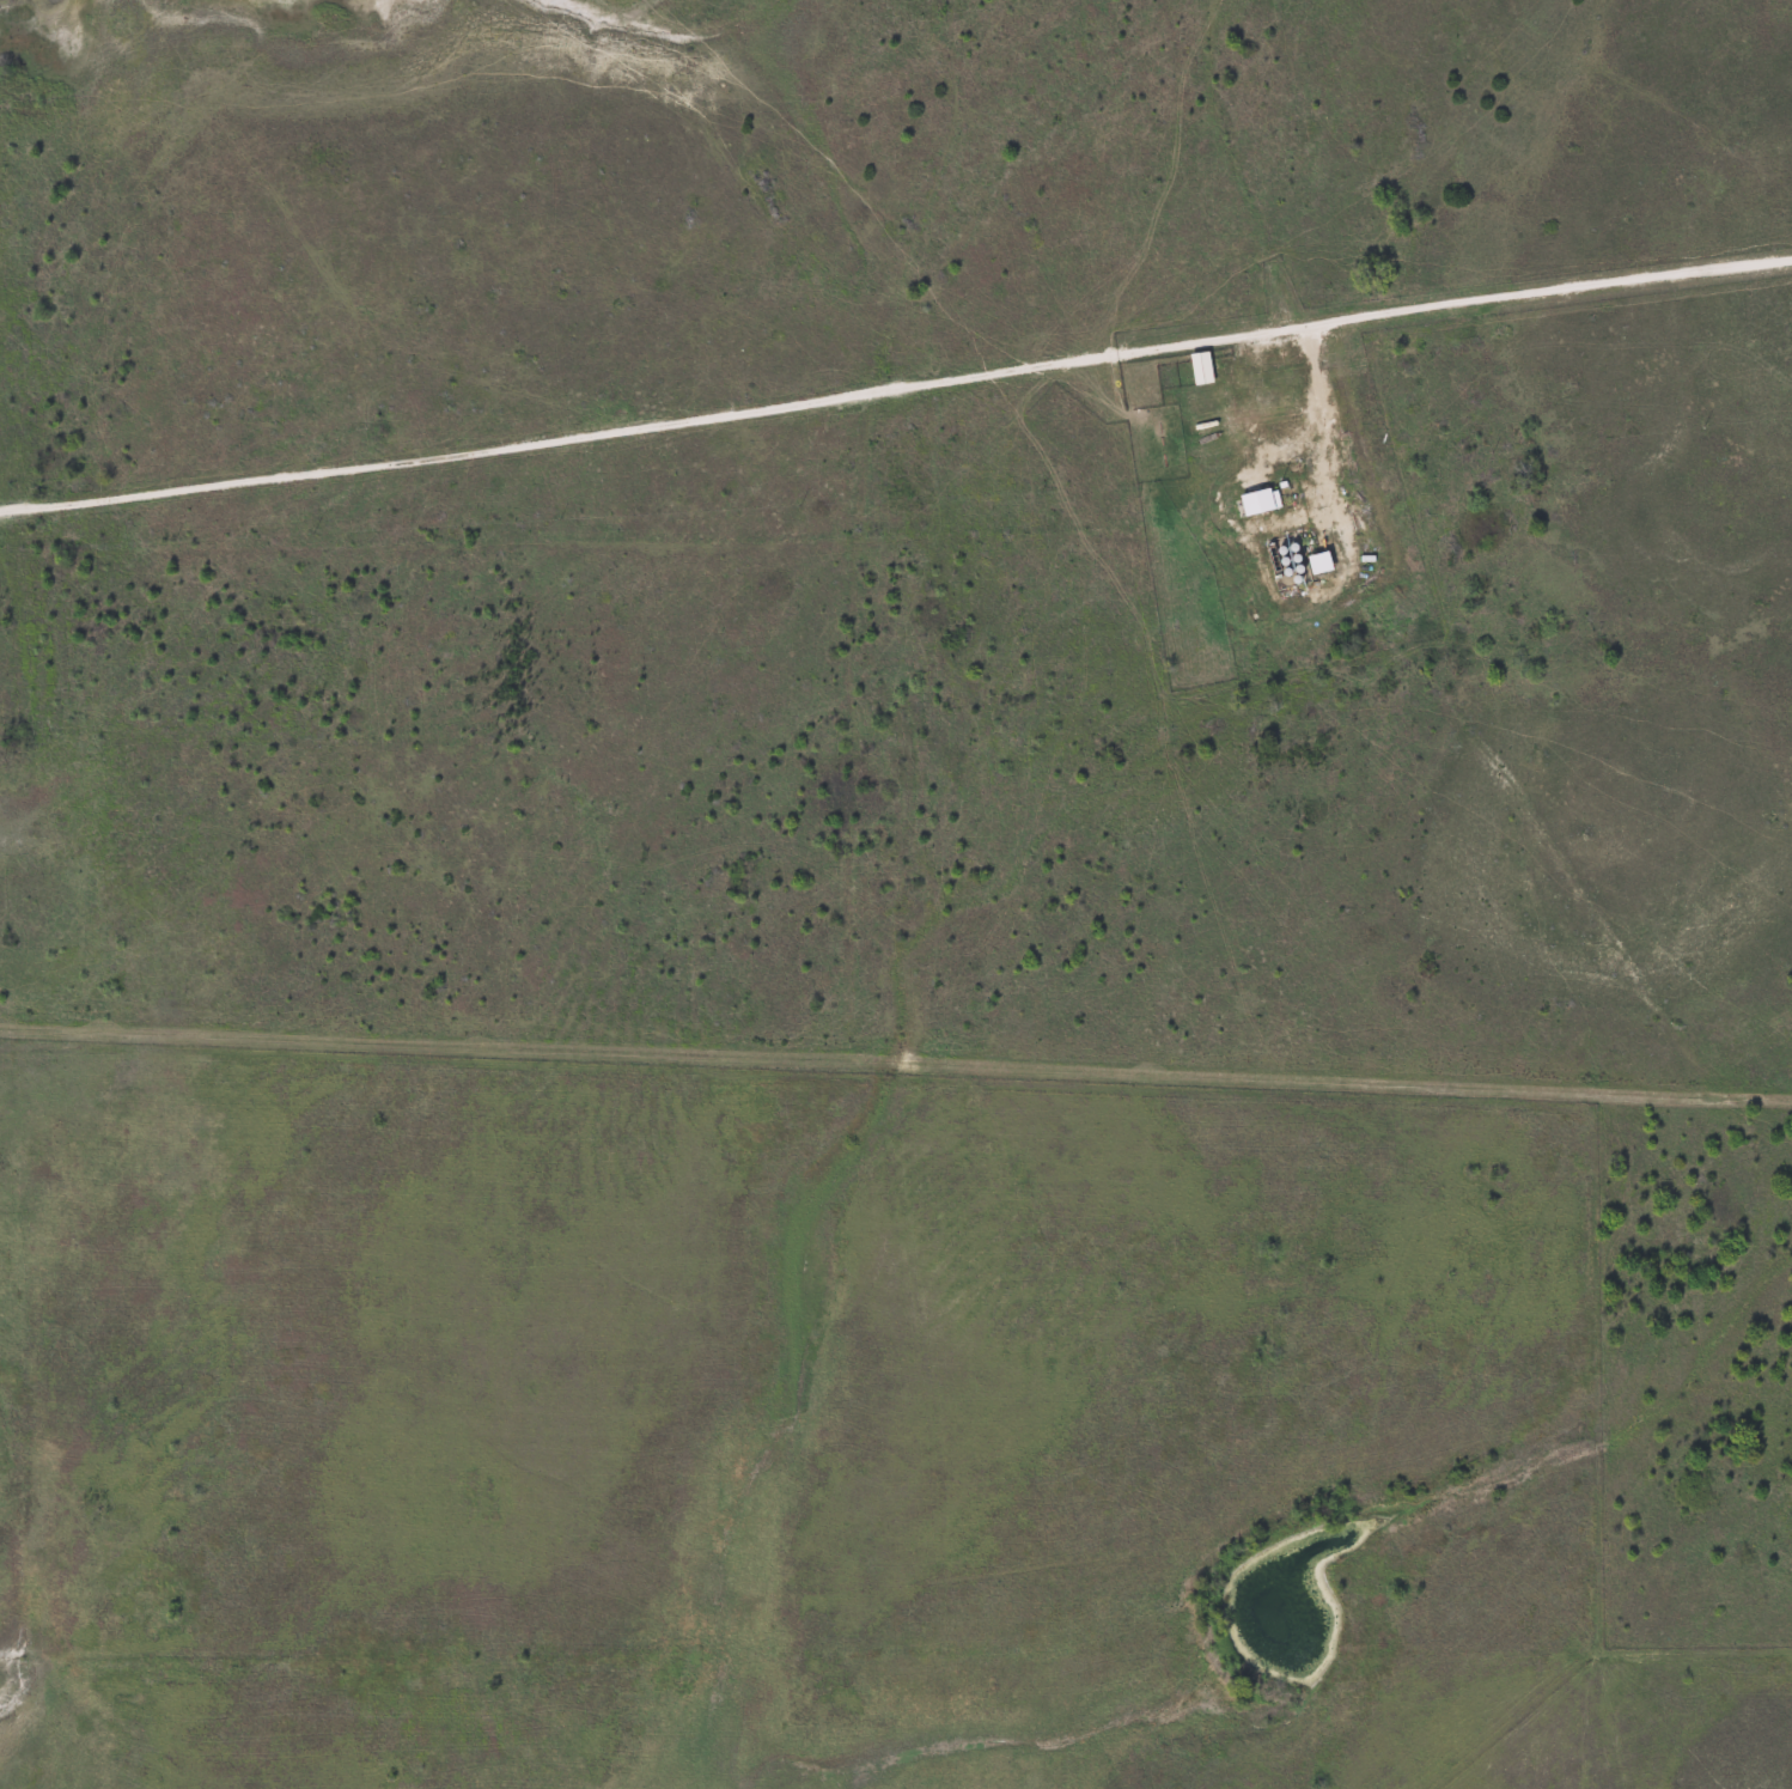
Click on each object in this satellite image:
road: (1648, 98)
road: (896, 385)
road: (1316, 437)
building: (1255, 501)
building: (1317, 564)

